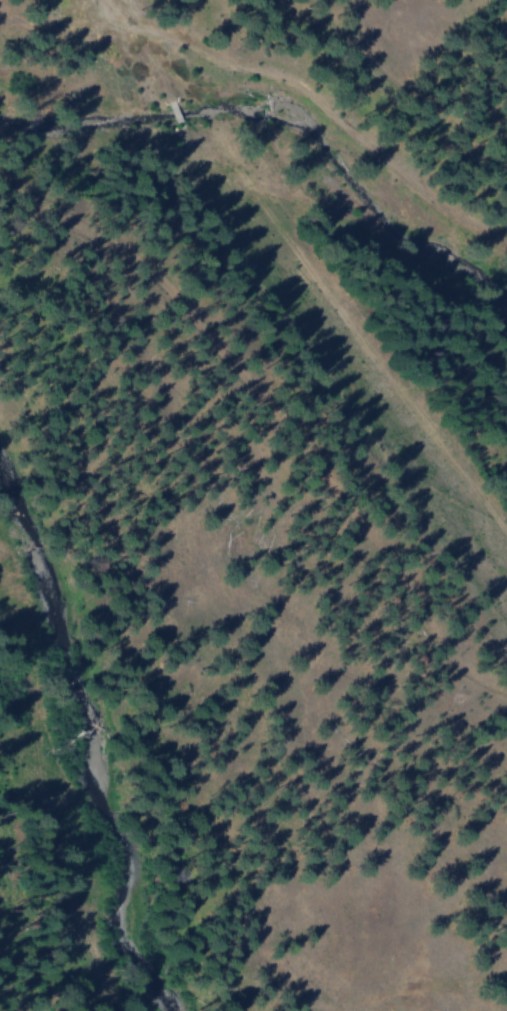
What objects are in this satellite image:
road: (287, 473)

